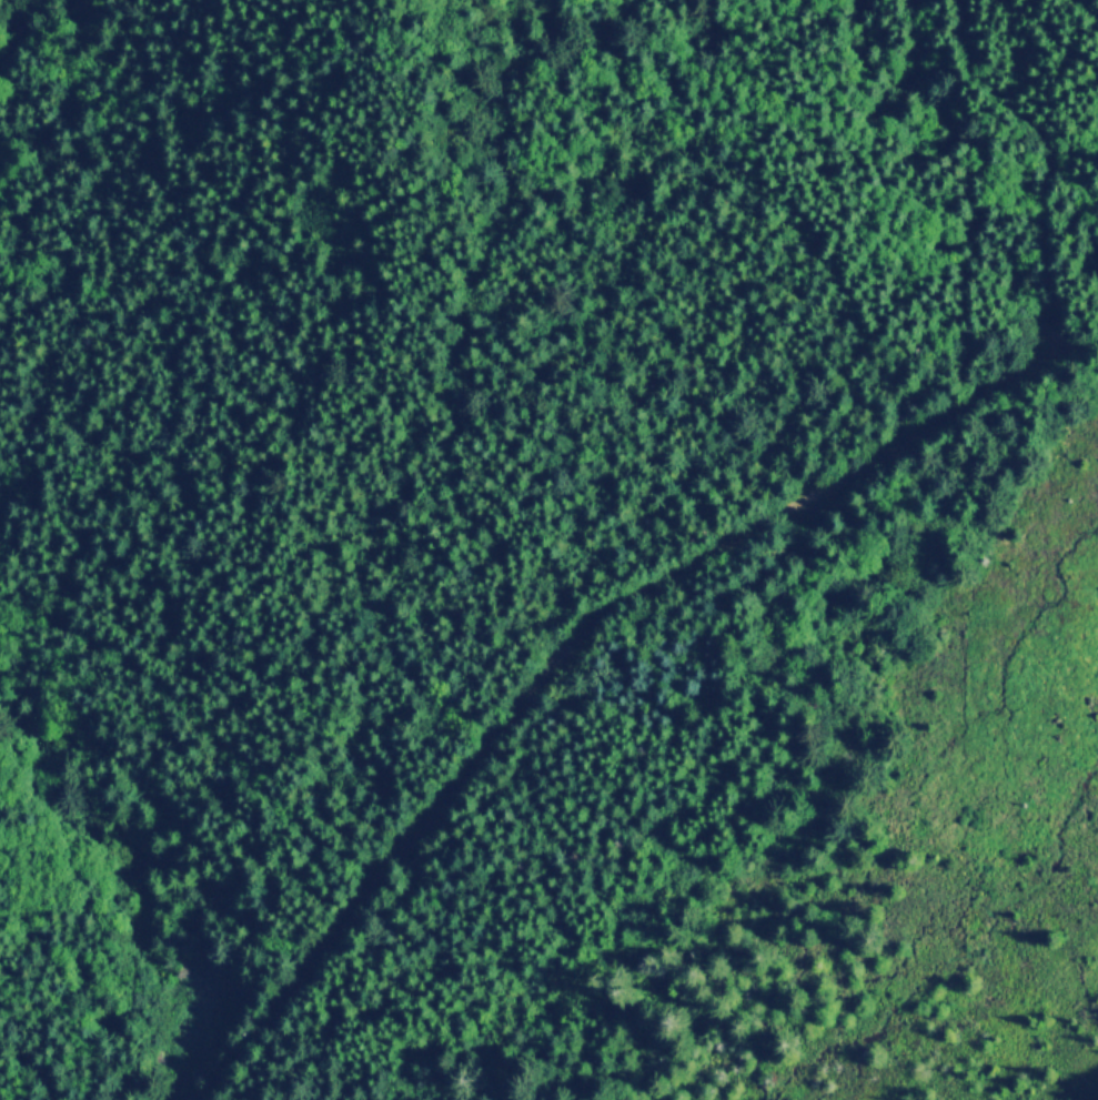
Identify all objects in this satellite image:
road: (991, 109)
road: (1049, 250)
road: (830, 421)

